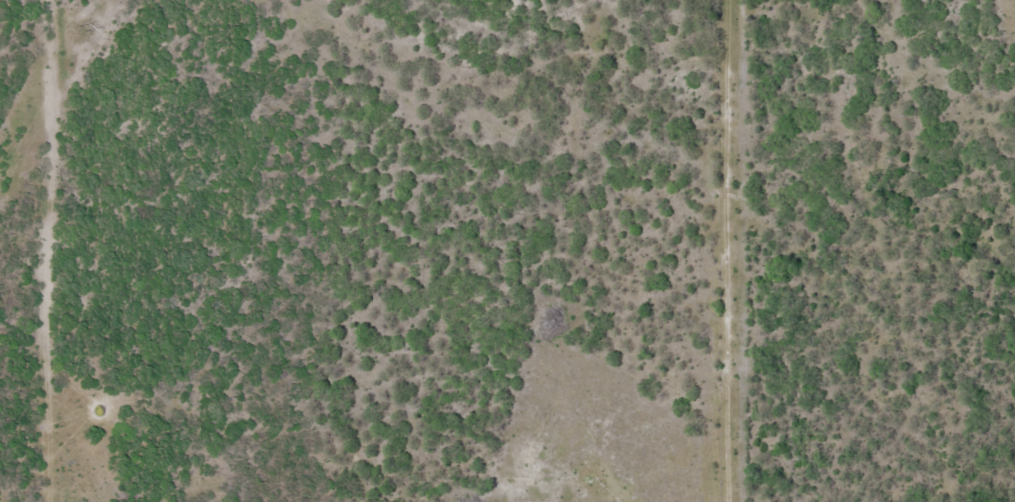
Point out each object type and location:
power tower: (80, 29)
road: (41, 341)

